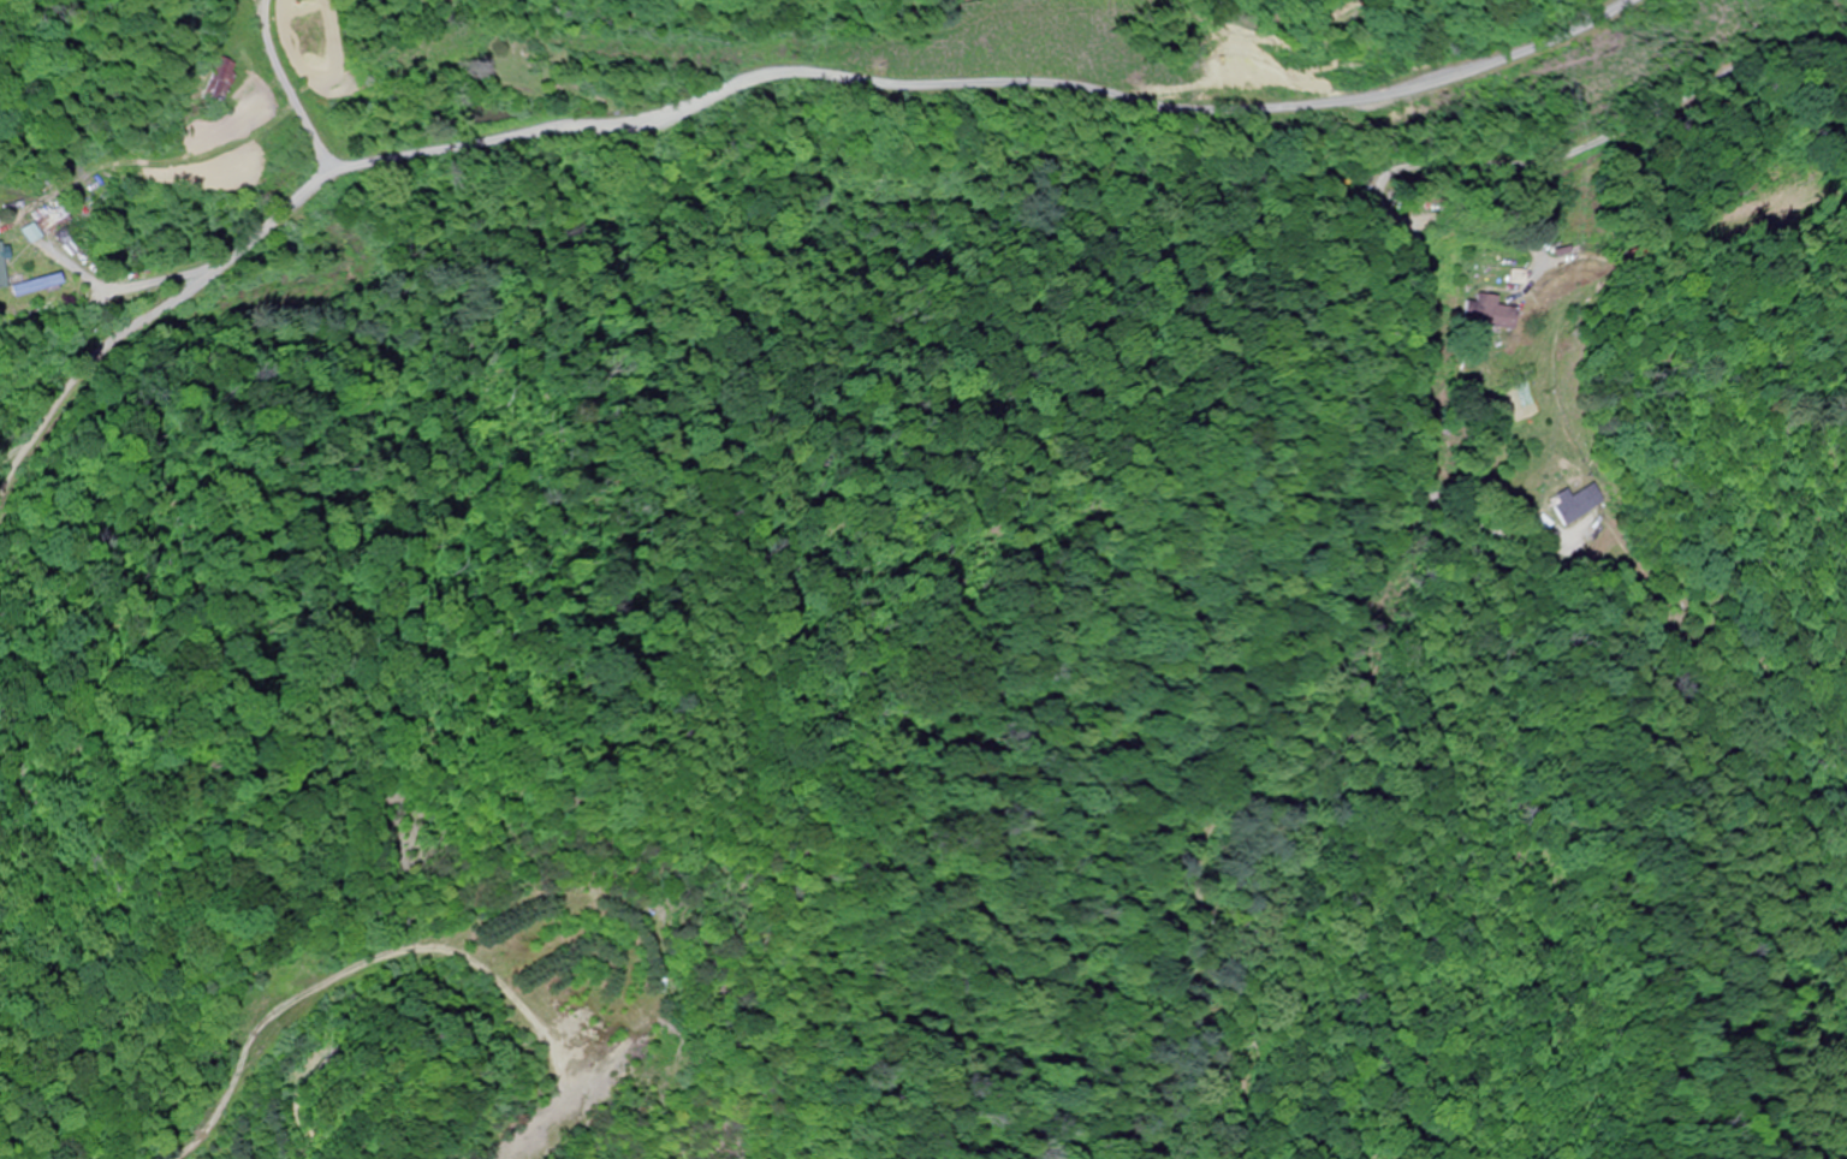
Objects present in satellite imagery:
building: (214, 84)
road: (285, 88)
road: (1270, 106)
road: (1790, 135)
road: (390, 156)
road: (1457, 164)
building: (30, 286)
building: (1485, 314)
building: (1569, 506)
road: (1293, 709)
road: (480, 905)

